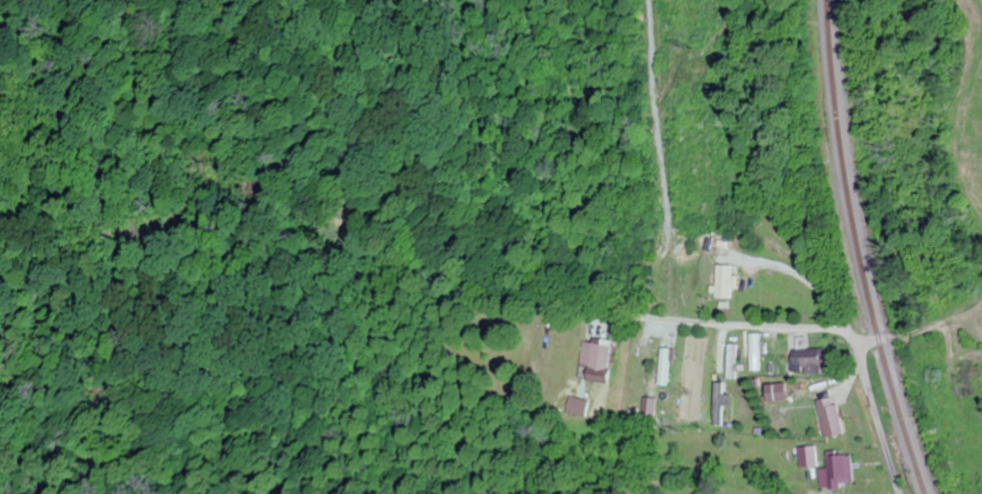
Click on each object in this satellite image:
railway: (859, 249)
building: (725, 281)
road: (815, 335)
building: (754, 351)
building: (808, 360)
building: (732, 361)
building: (596, 362)
building: (664, 367)
building: (648, 407)
building: (829, 417)
building: (838, 471)

